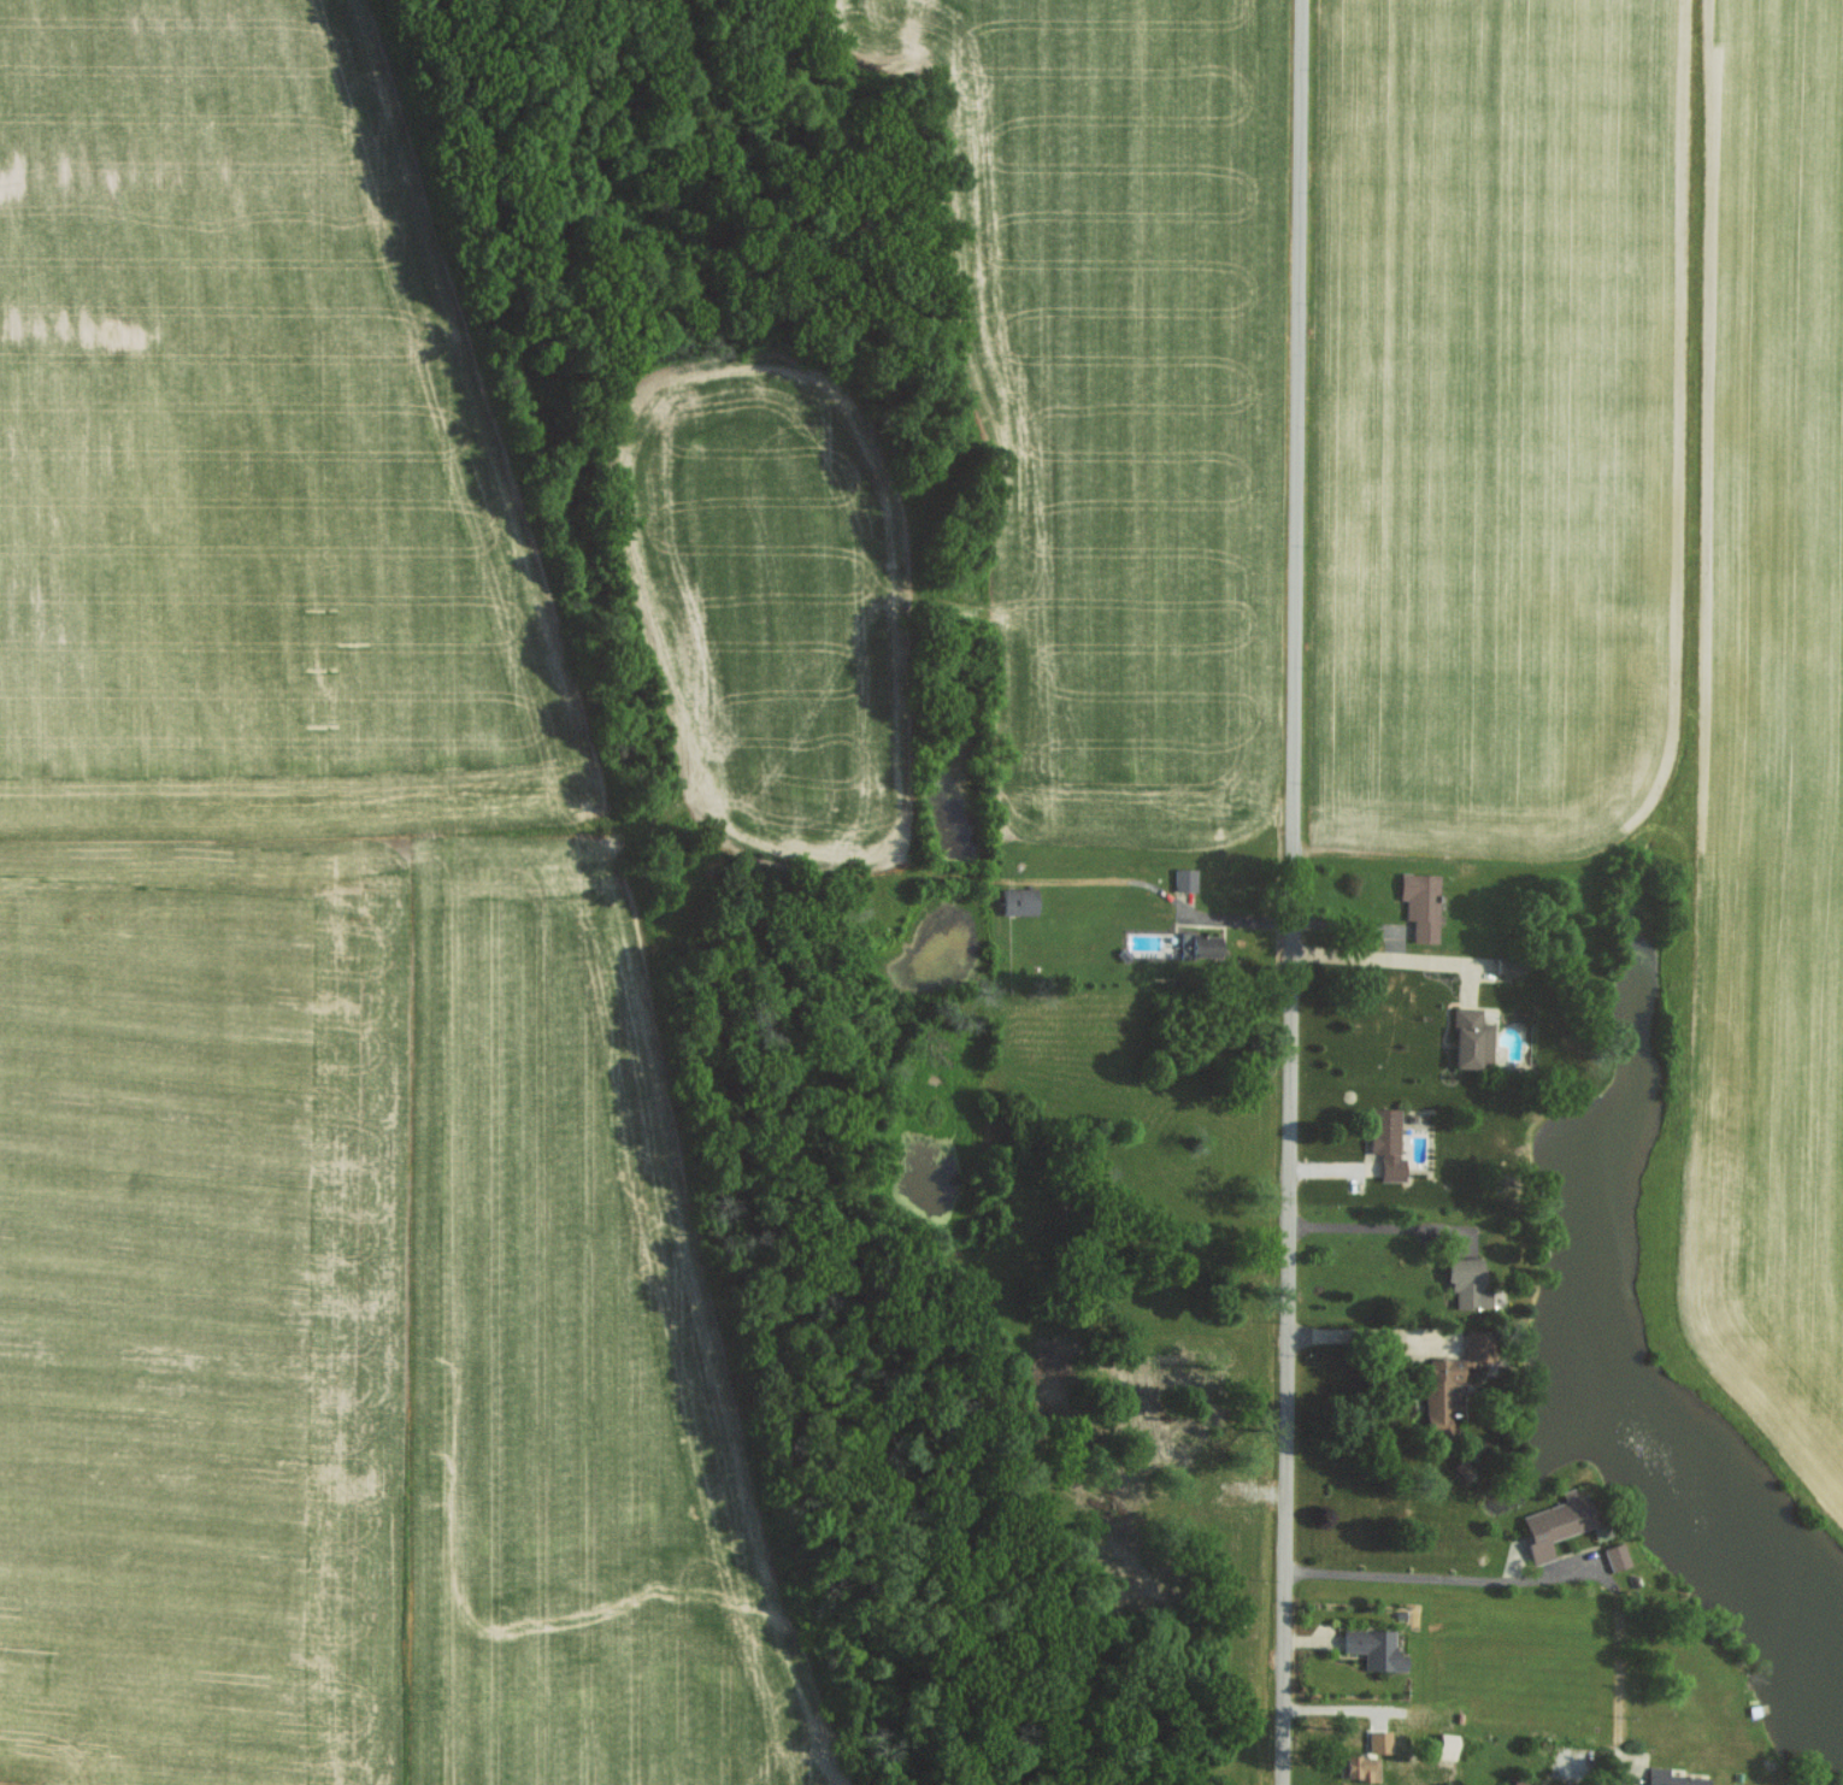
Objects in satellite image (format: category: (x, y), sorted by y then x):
crop: (1766, 732)
building: (1184, 879)
road: (1296, 892)
building: (1019, 900)
building: (1421, 905)
building: (1196, 947)
road: (1392, 955)
building: (1509, 967)
building: (1471, 1038)
building: (1386, 1142)
road: (1384, 1226)
building: (1467, 1282)
crop: (199, 1308)
road: (1374, 1335)
building: (1453, 1377)
building: (1462, 1466)
building: (1558, 1522)
building: (1615, 1555)
road: (1554, 1575)
building: (1374, 1648)
building: (1447, 1745)
building: (1358, 1767)
building: (1672, 1778)
building: (1520, 1781)

